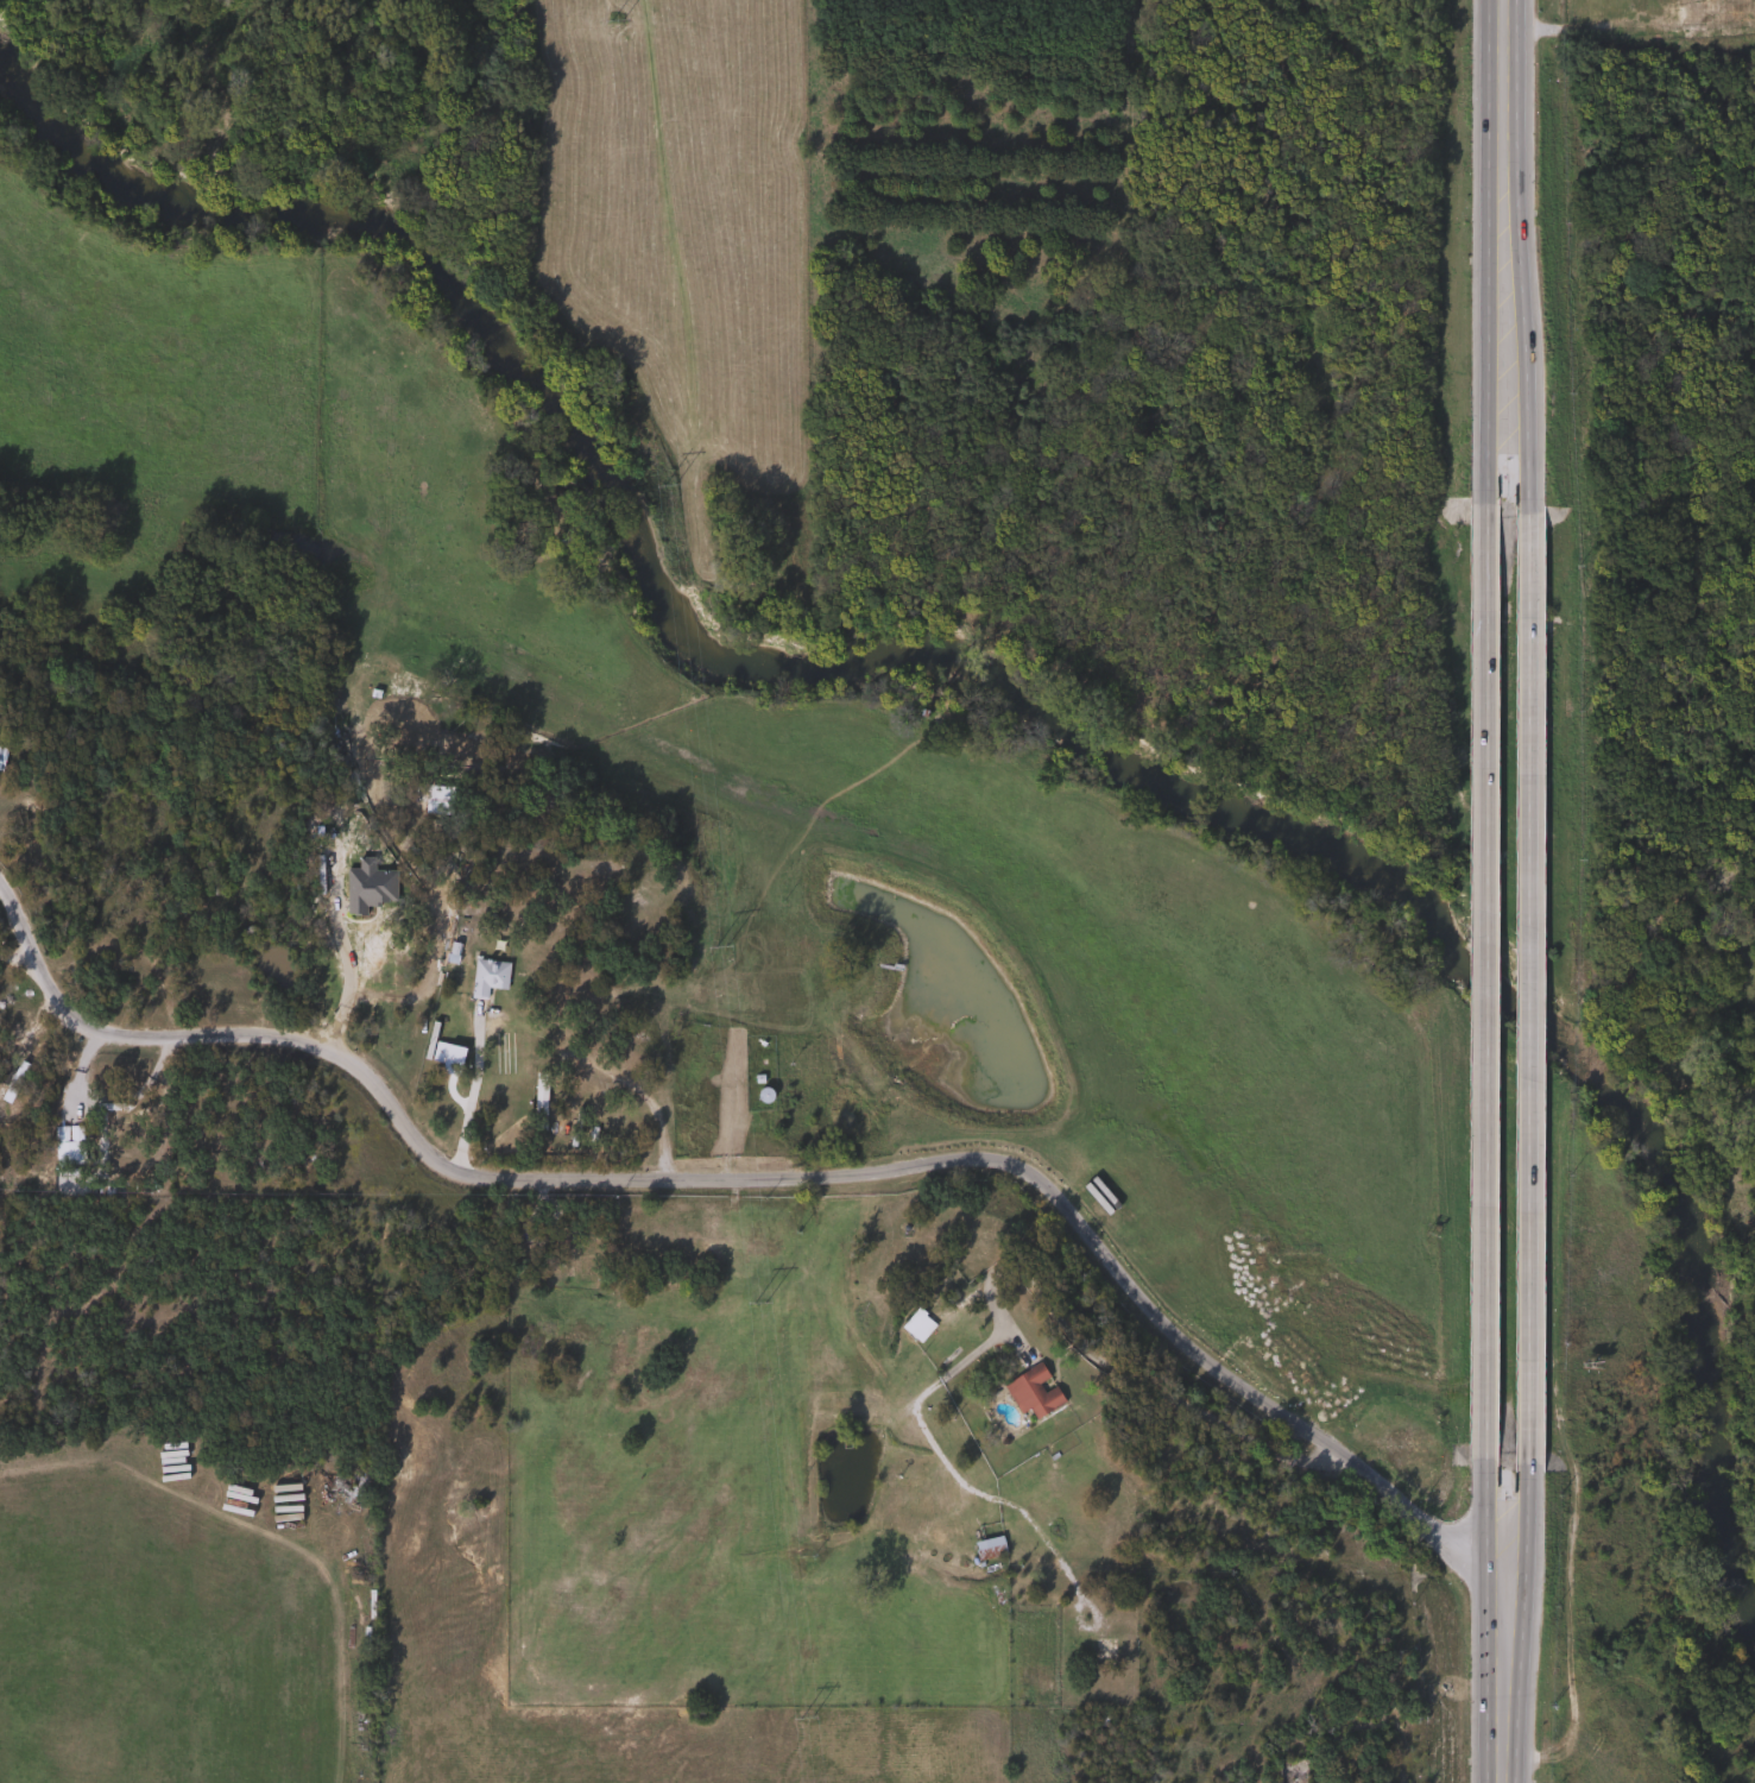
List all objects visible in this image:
power tower: (617, 20)
road: (1504, 151)
power tower: (669, 486)
river: (999, 680)
building: (387, 717)
building: (1, 752)
building: (368, 886)
building: (324, 914)
power tower: (721, 946)
road: (1485, 951)
road: (1526, 952)
road: (14, 956)
building: (485, 977)
road: (354, 985)
road: (27, 1031)
road: (207, 1037)
building: (446, 1058)
building: (12, 1082)
road: (469, 1095)
building: (762, 1095)
building: (65, 1145)
road: (777, 1178)
building: (555, 1248)
power tower: (759, 1303)
building: (915, 1327)
road: (1117, 1373)
building: (1030, 1393)
road: (1289, 1424)
building: (986, 1549)
road: (1498, 1691)
power tower: (806, 1716)
building: (1288, 1772)

